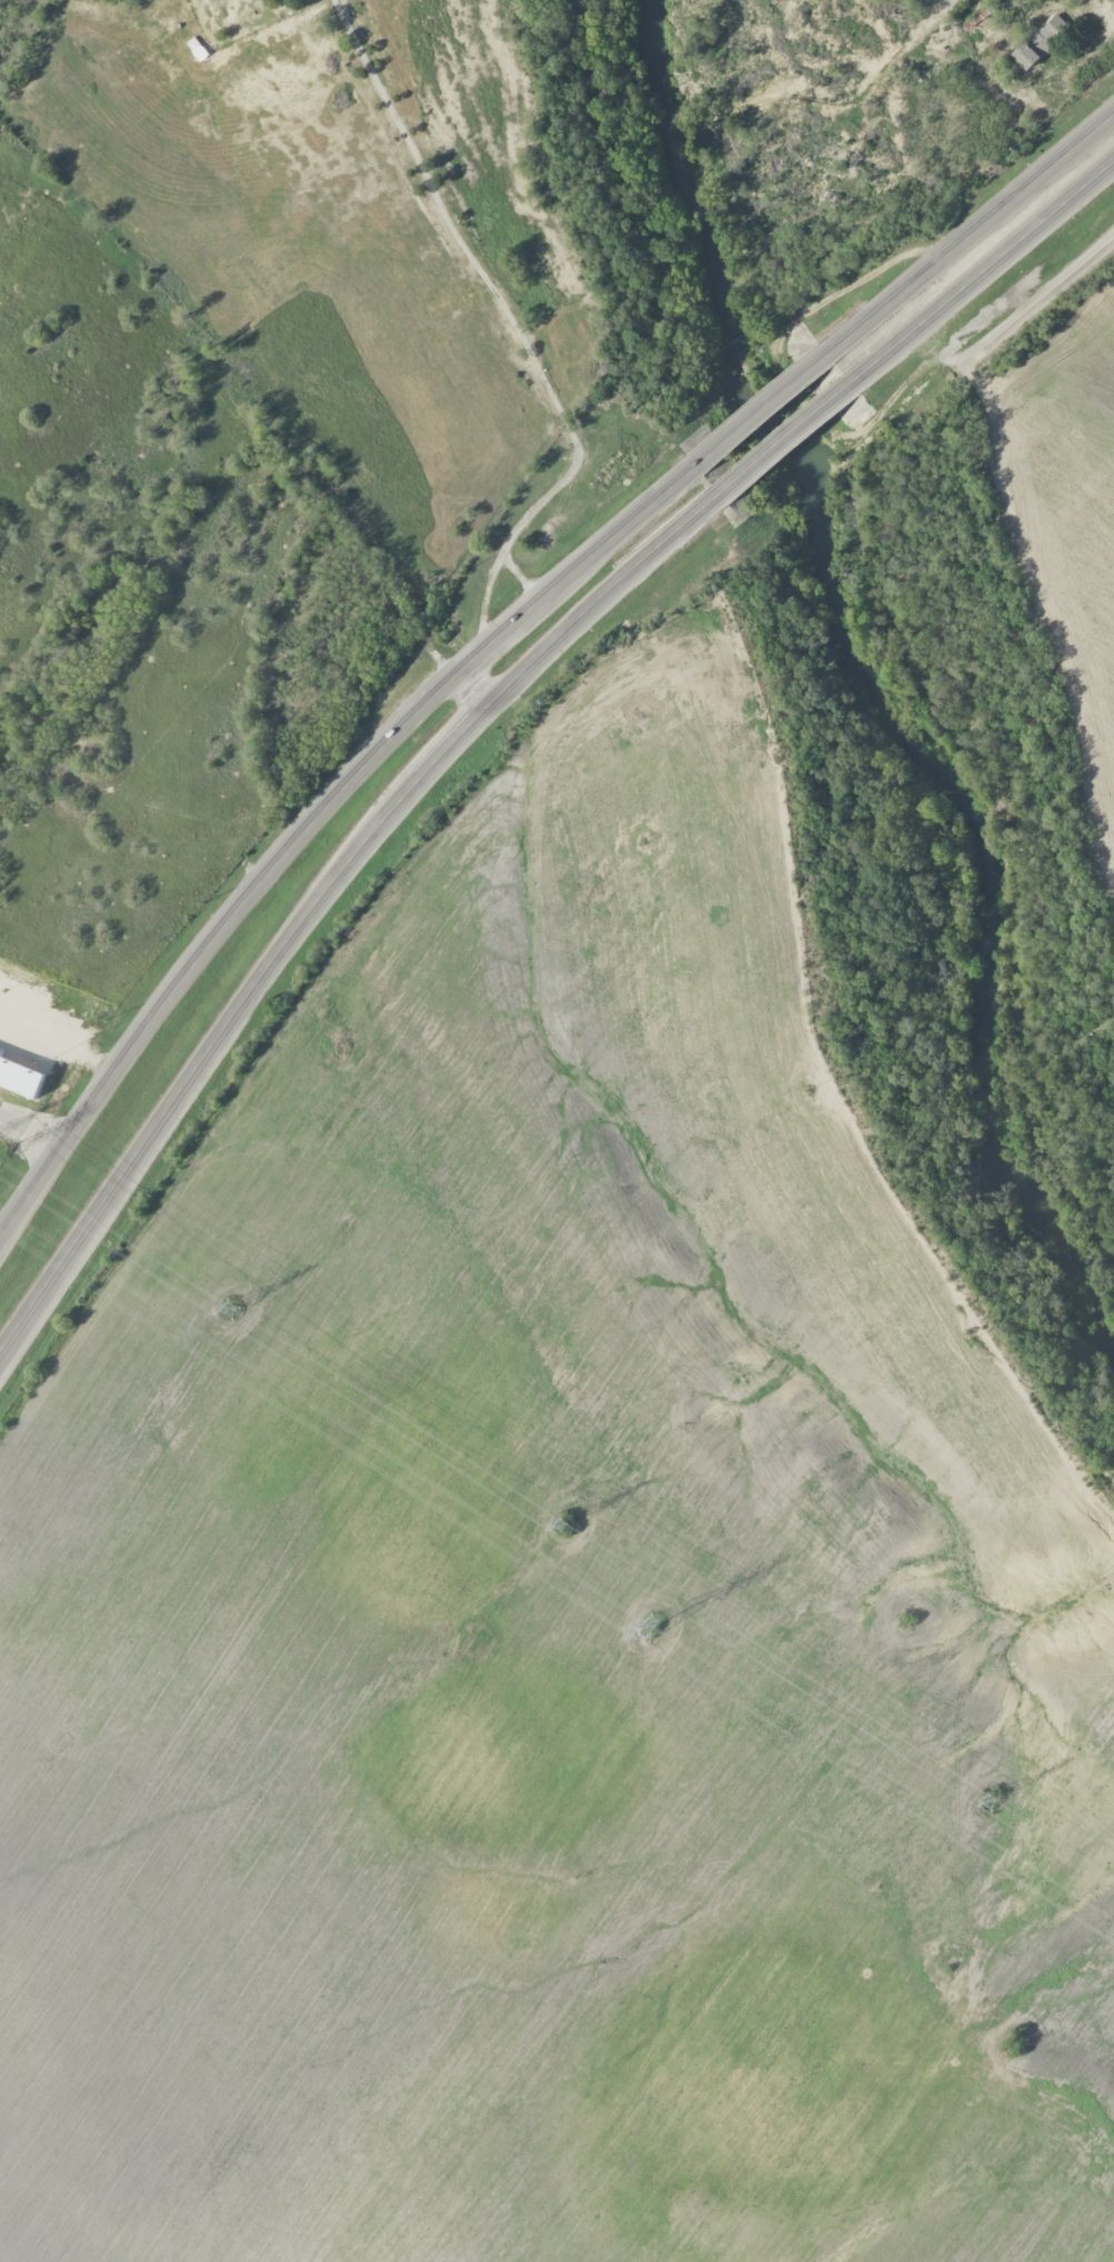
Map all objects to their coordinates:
building: (1045, 41)
road: (971, 236)
road: (981, 276)
road: (1038, 300)
road: (514, 323)
road: (762, 405)
road: (785, 440)
road: (518, 575)
road: (468, 691)
road: (314, 817)
road: (322, 890)
building: (22, 1075)
road: (29, 1134)
power tower: (227, 1307)
power tower: (558, 1522)
power tower: (648, 1626)
power tower: (989, 1800)

